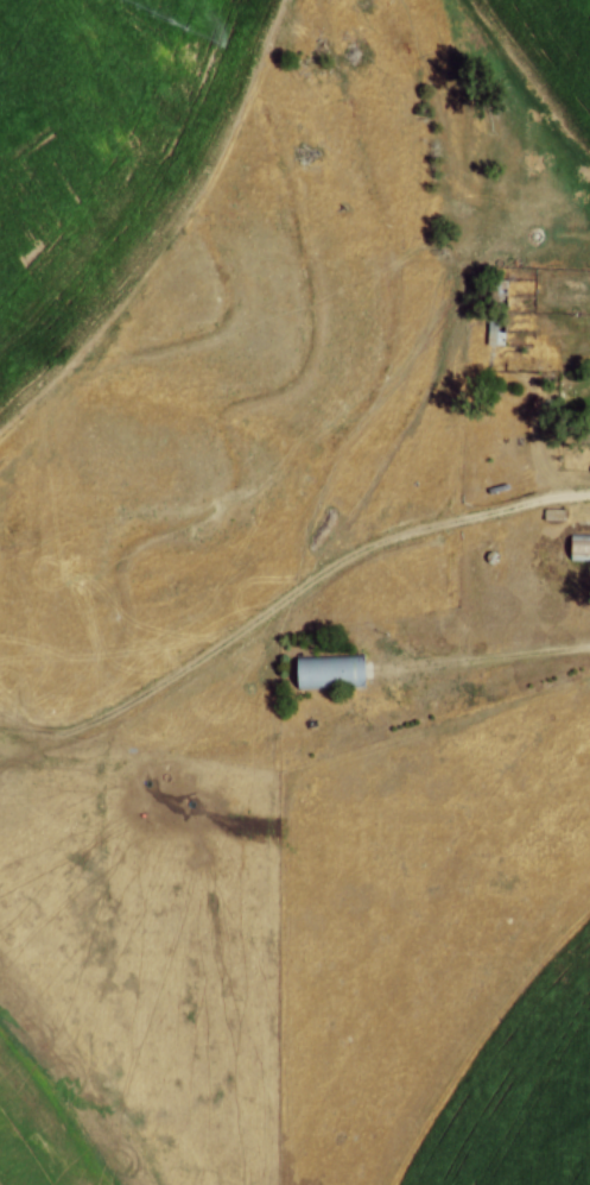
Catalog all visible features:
crop: (538, 70)
crop: (99, 153)
building: (494, 334)
building: (484, 335)
building: (585, 424)
building: (545, 517)
building: (573, 549)
building: (484, 560)
silo: (484, 560)
road: (489, 658)
building: (321, 676)
crop: (519, 1086)
crop: (42, 1129)

